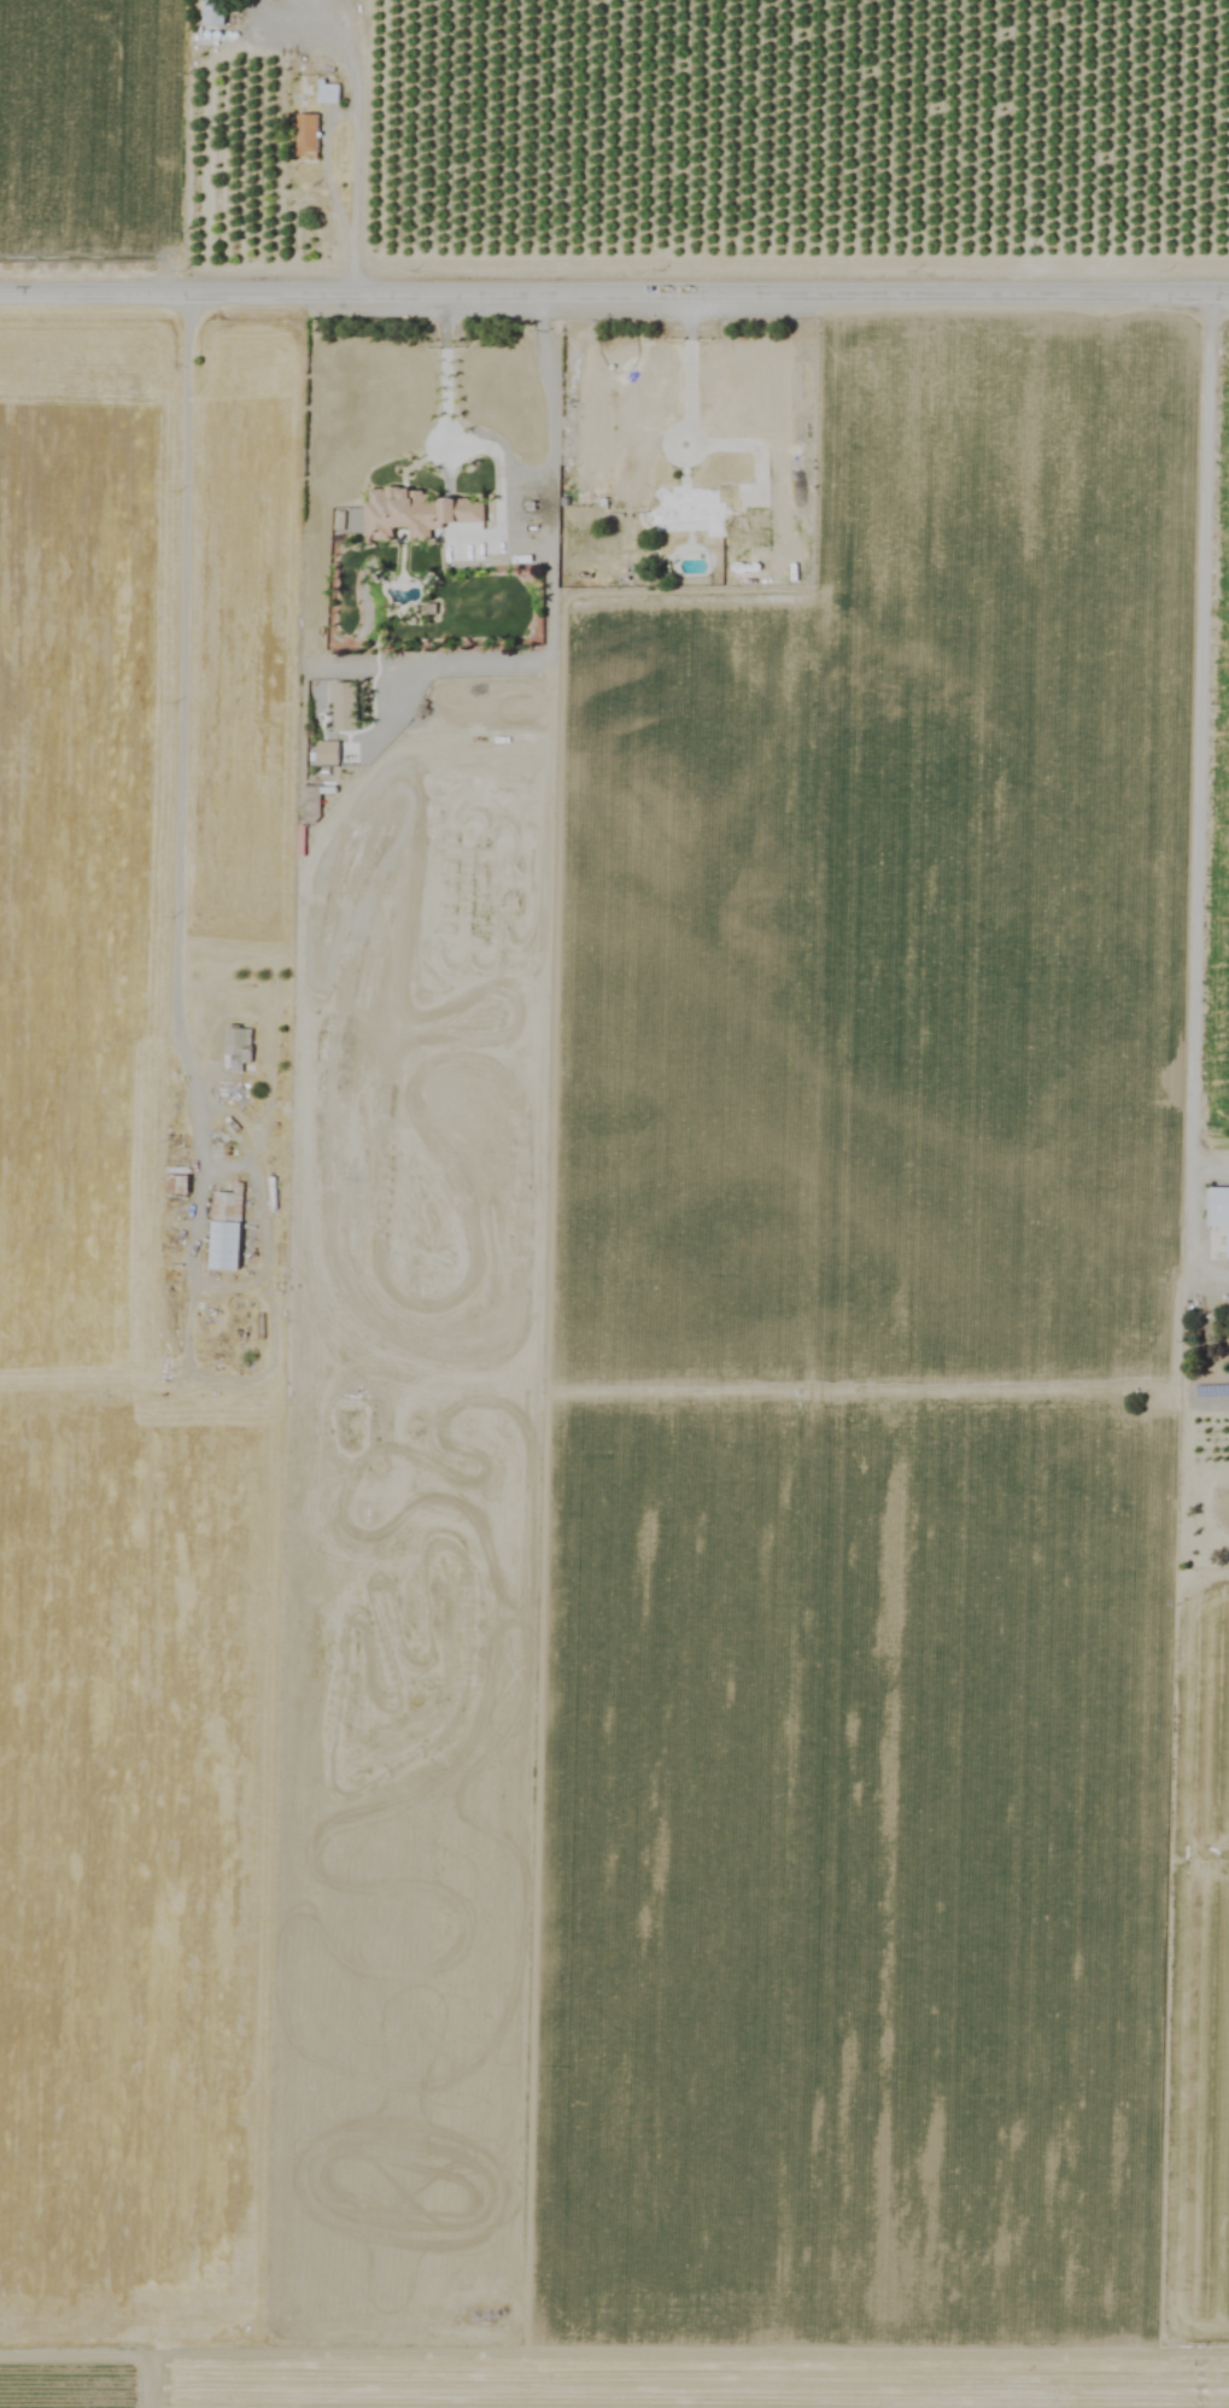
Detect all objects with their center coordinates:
building: (212, 12)
building: (328, 93)
road: (356, 131)
building: (306, 134)
road: (614, 297)
road: (504, 477)
building: (692, 509)
building: (414, 513)
building: (344, 706)
building: (327, 753)
road: (187, 779)
road: (1200, 930)
building: (236, 1048)
building: (176, 1185)
building: (1218, 1210)
building: (226, 1231)
crop: (638, 1274)

